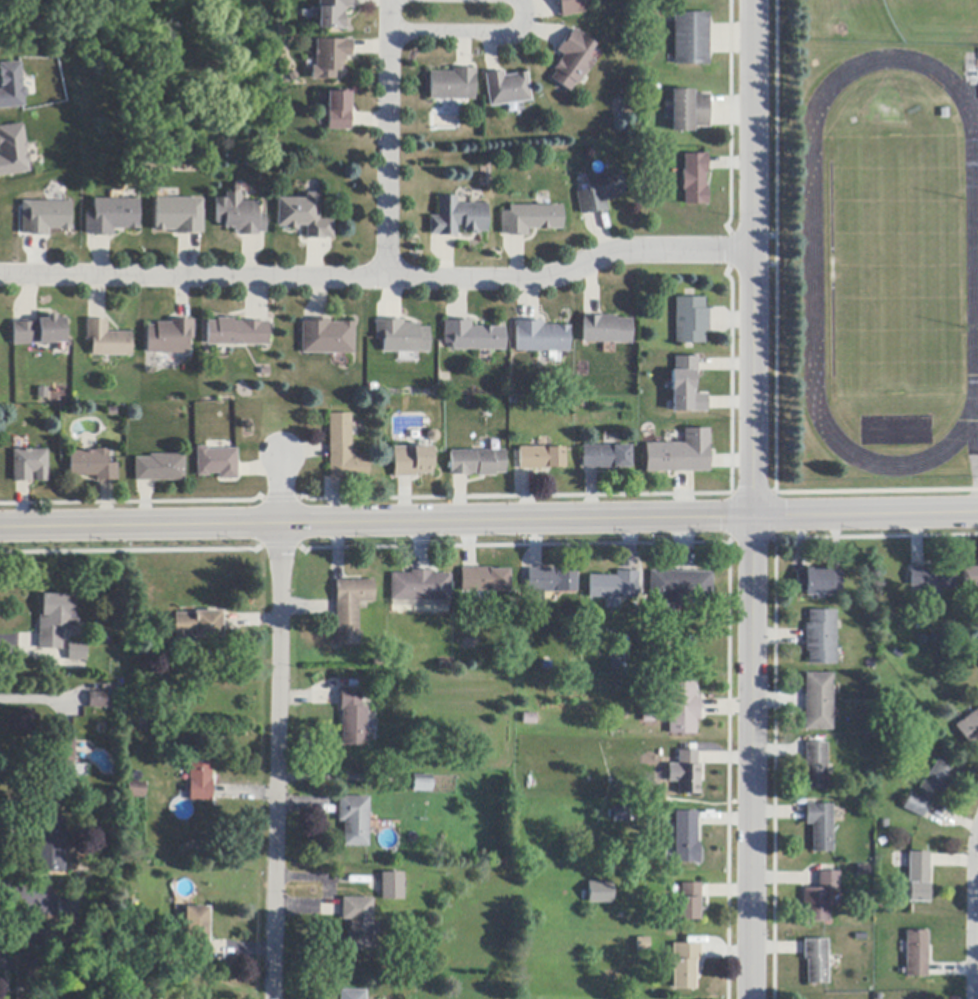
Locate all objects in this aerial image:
building: (569, 7)
building: (333, 13)
park: (937, 18)
road: (469, 35)
building: (690, 39)
building: (329, 58)
building: (571, 60)
building: (452, 85)
building: (11, 86)
building: (506, 90)
building: (339, 111)
building: (688, 111)
park: (178, 133)
road: (388, 139)
building: (12, 151)
building: (694, 180)
building: (600, 192)
building: (111, 217)
building: (178, 217)
building: (240, 217)
building: (304, 217)
building: (45, 218)
building: (458, 218)
building: (530, 219)
road: (378, 278)
building: (690, 321)
building: (605, 330)
building: (38, 331)
building: (237, 333)
building: (170, 337)
building: (402, 337)
building: (472, 337)
building: (540, 337)
building: (327, 338)
building: (107, 341)
building: (686, 387)
building: (432, 436)
building: (343, 451)
building: (679, 454)
building: (606, 457)
building: (540, 458)
building: (411, 461)
building: (217, 463)
building: (476, 463)
building: (92, 465)
building: (29, 466)
building: (160, 468)
road: (751, 499)
road: (488, 519)
building: (970, 577)
building: (484, 580)
building: (932, 580)
building: (818, 582)
building: (549, 583)
building: (613, 586)
building: (679, 586)
building: (420, 587)
building: (349, 608)
building: (55, 621)
building: (198, 626)
building: (820, 638)
building: (77, 653)
building: (615, 664)
building: (97, 700)
building: (818, 702)
building: (682, 708)
building: (352, 719)
building: (529, 719)
road: (277, 726)
building: (969, 728)
building: (61, 765)
building: (815, 766)
building: (686, 773)
building: (936, 780)
building: (200, 781)
building: (421, 783)
building: (136, 790)
building: (915, 805)
building: (620, 815)
building: (353, 820)
building: (820, 826)
building: (686, 838)
building: (52, 845)
building: (862, 871)
building: (917, 878)
building: (390, 886)
building: (598, 891)
building: (820, 897)
building: (687, 904)
building: (67, 908)
building: (358, 922)
building: (197, 932)
building: (642, 944)
building: (916, 954)
building: (816, 961)
building: (684, 965)
building: (144, 967)
building: (29, 976)
building: (352, 995)

